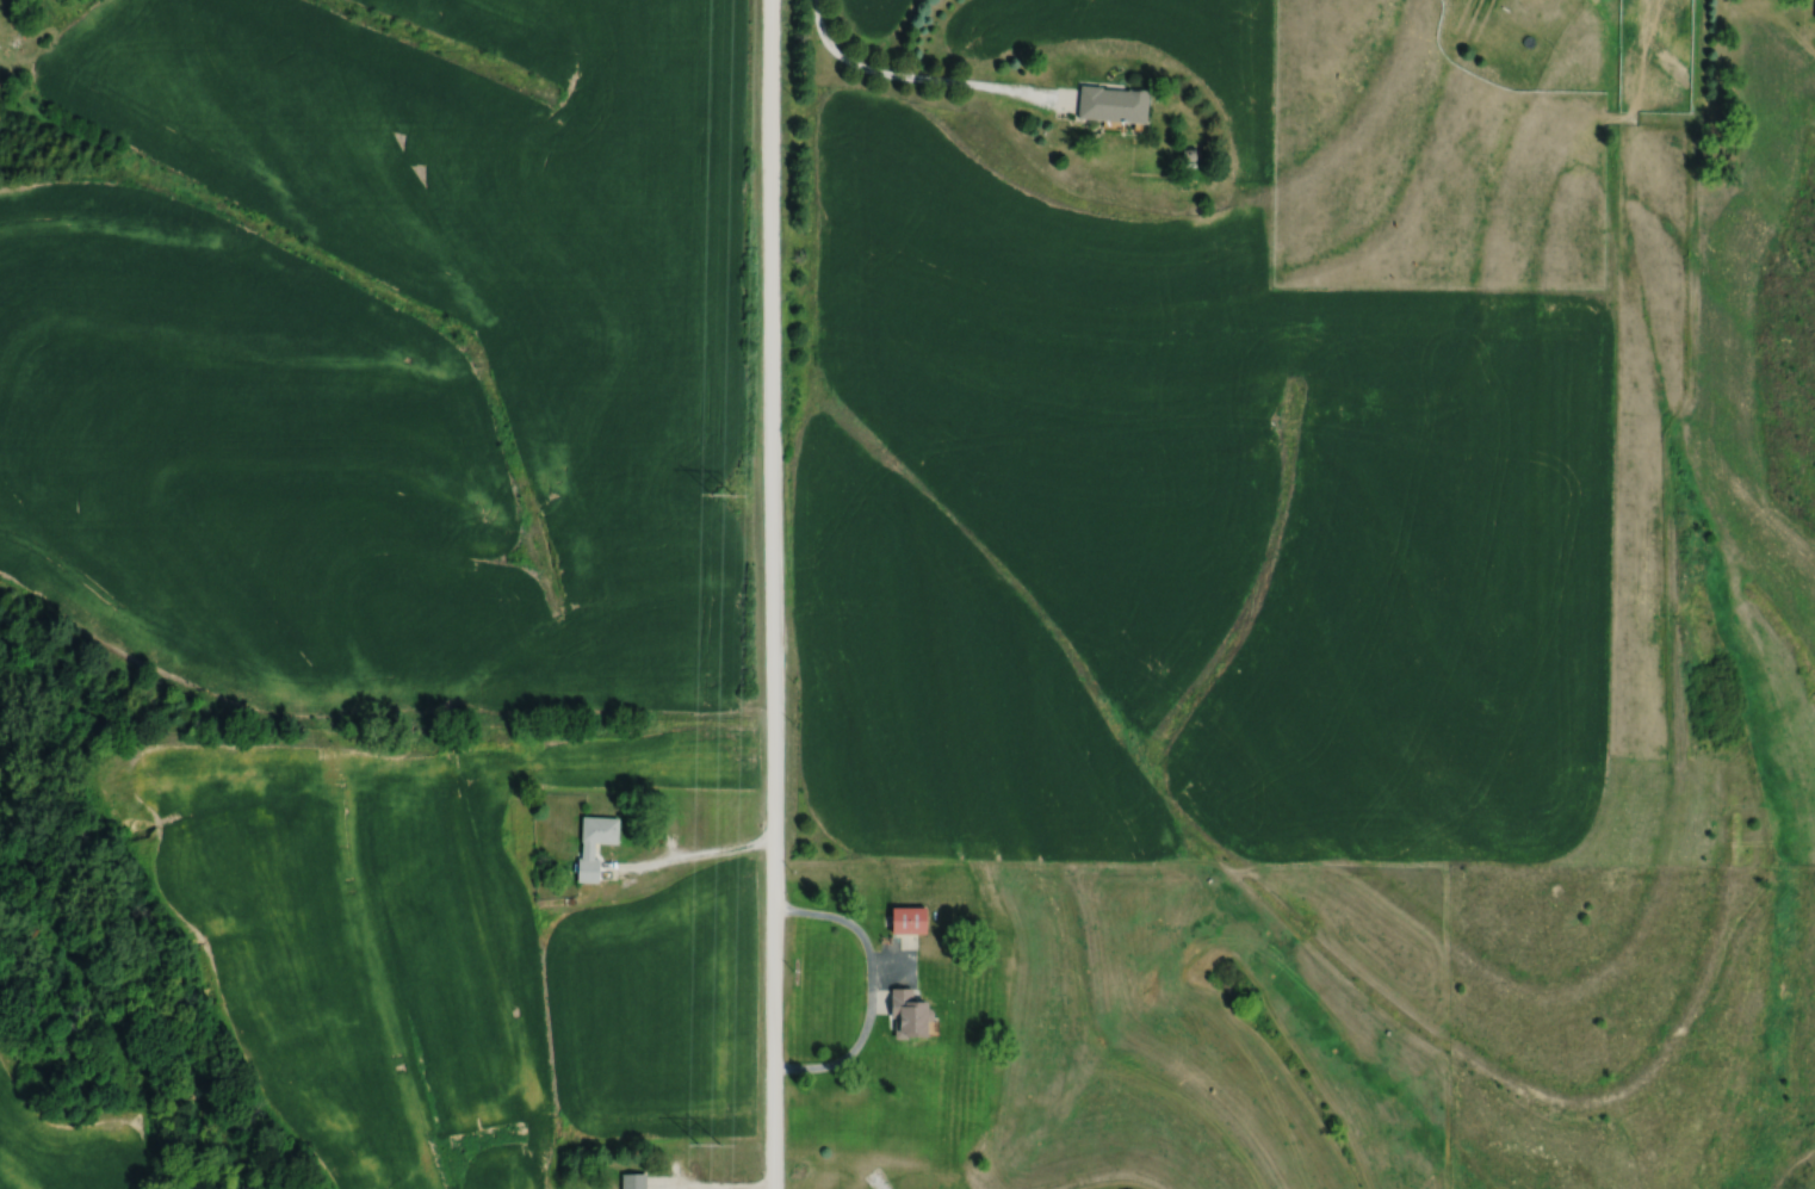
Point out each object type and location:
building: (1814, 8)
road: (925, 83)
building: (1109, 103)
power tower: (718, 494)
road: (774, 594)
building: (583, 850)
road: (698, 859)
building: (904, 921)
road: (871, 993)
building: (904, 1015)
power tower: (704, 1141)
building: (630, 1181)
road: (713, 1183)

